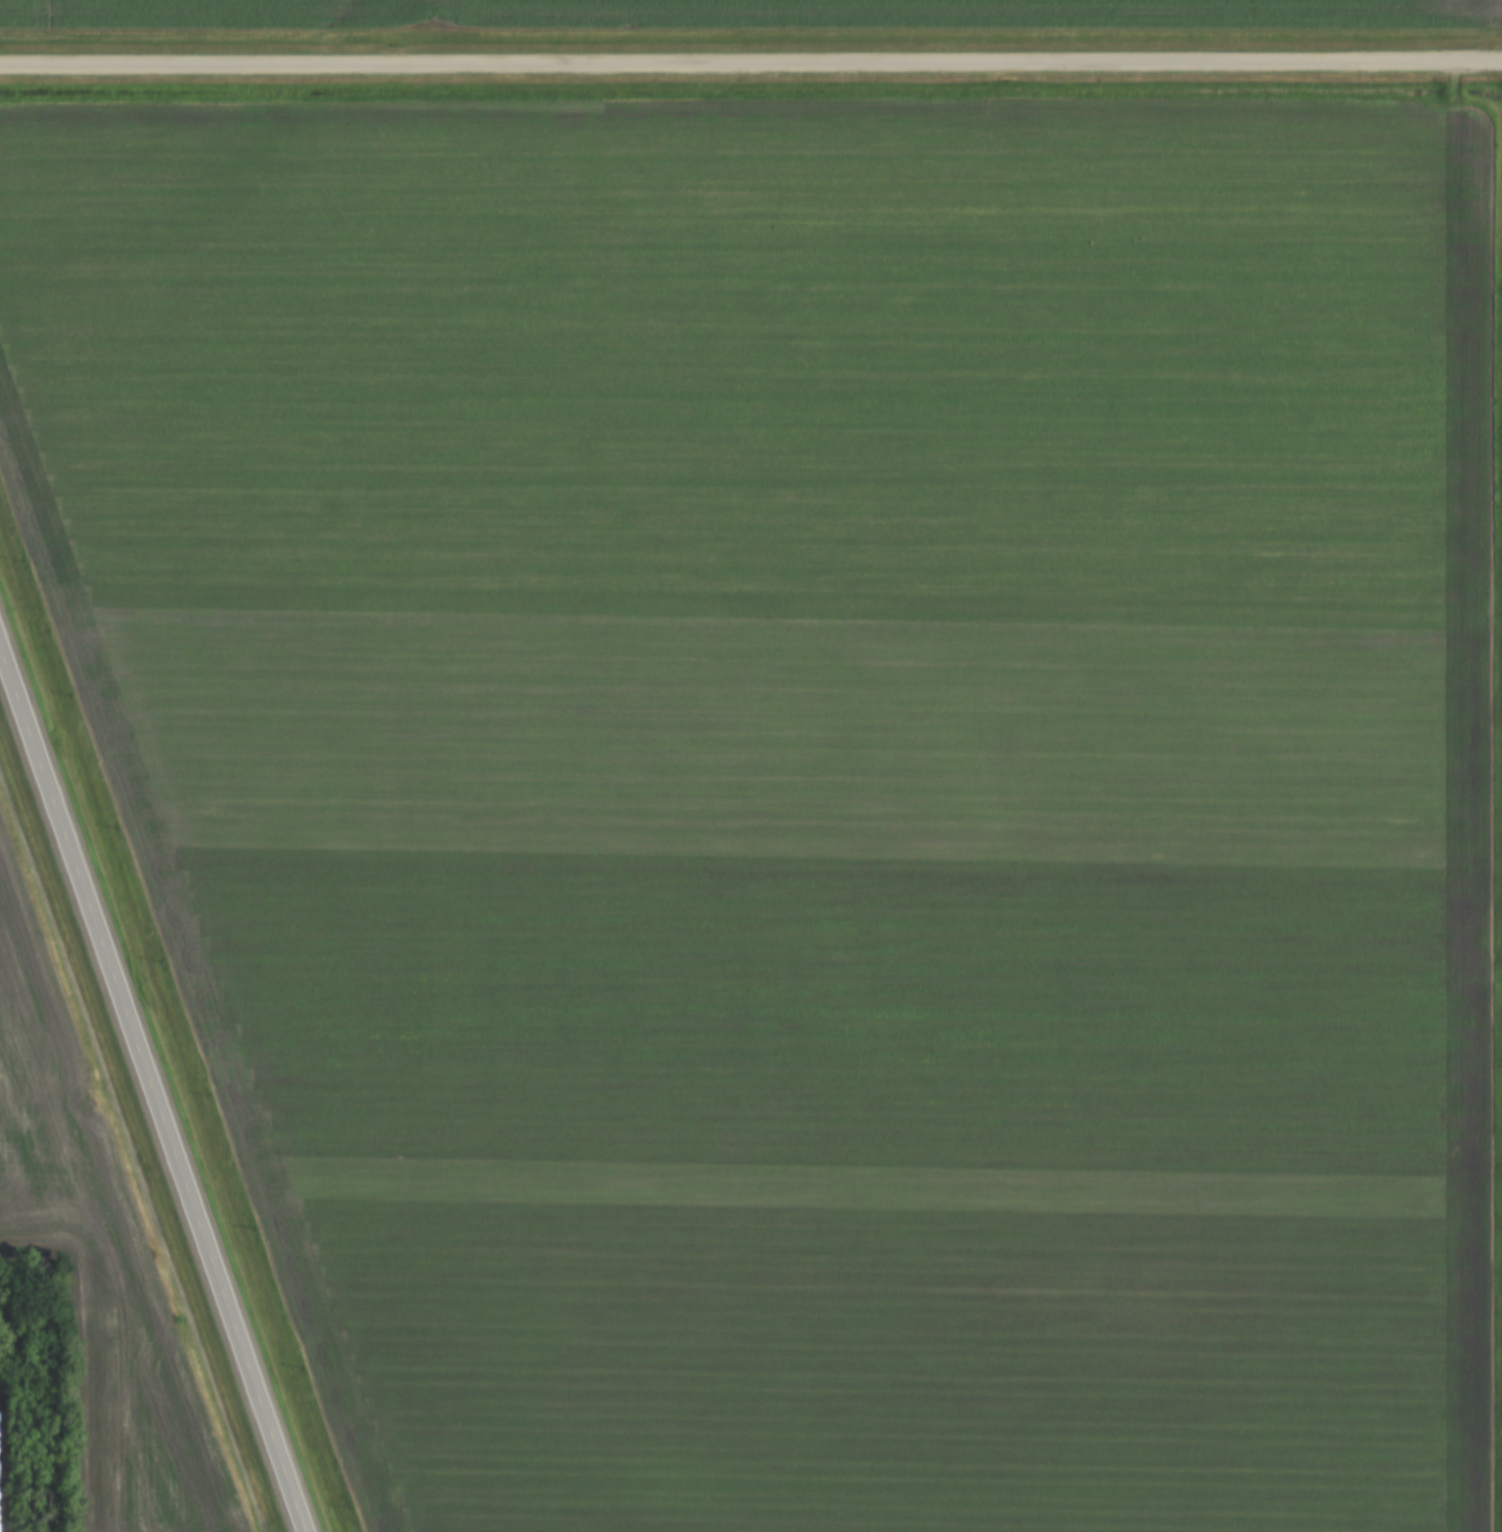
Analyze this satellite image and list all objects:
road: (751, 62)
road: (151, 1092)

